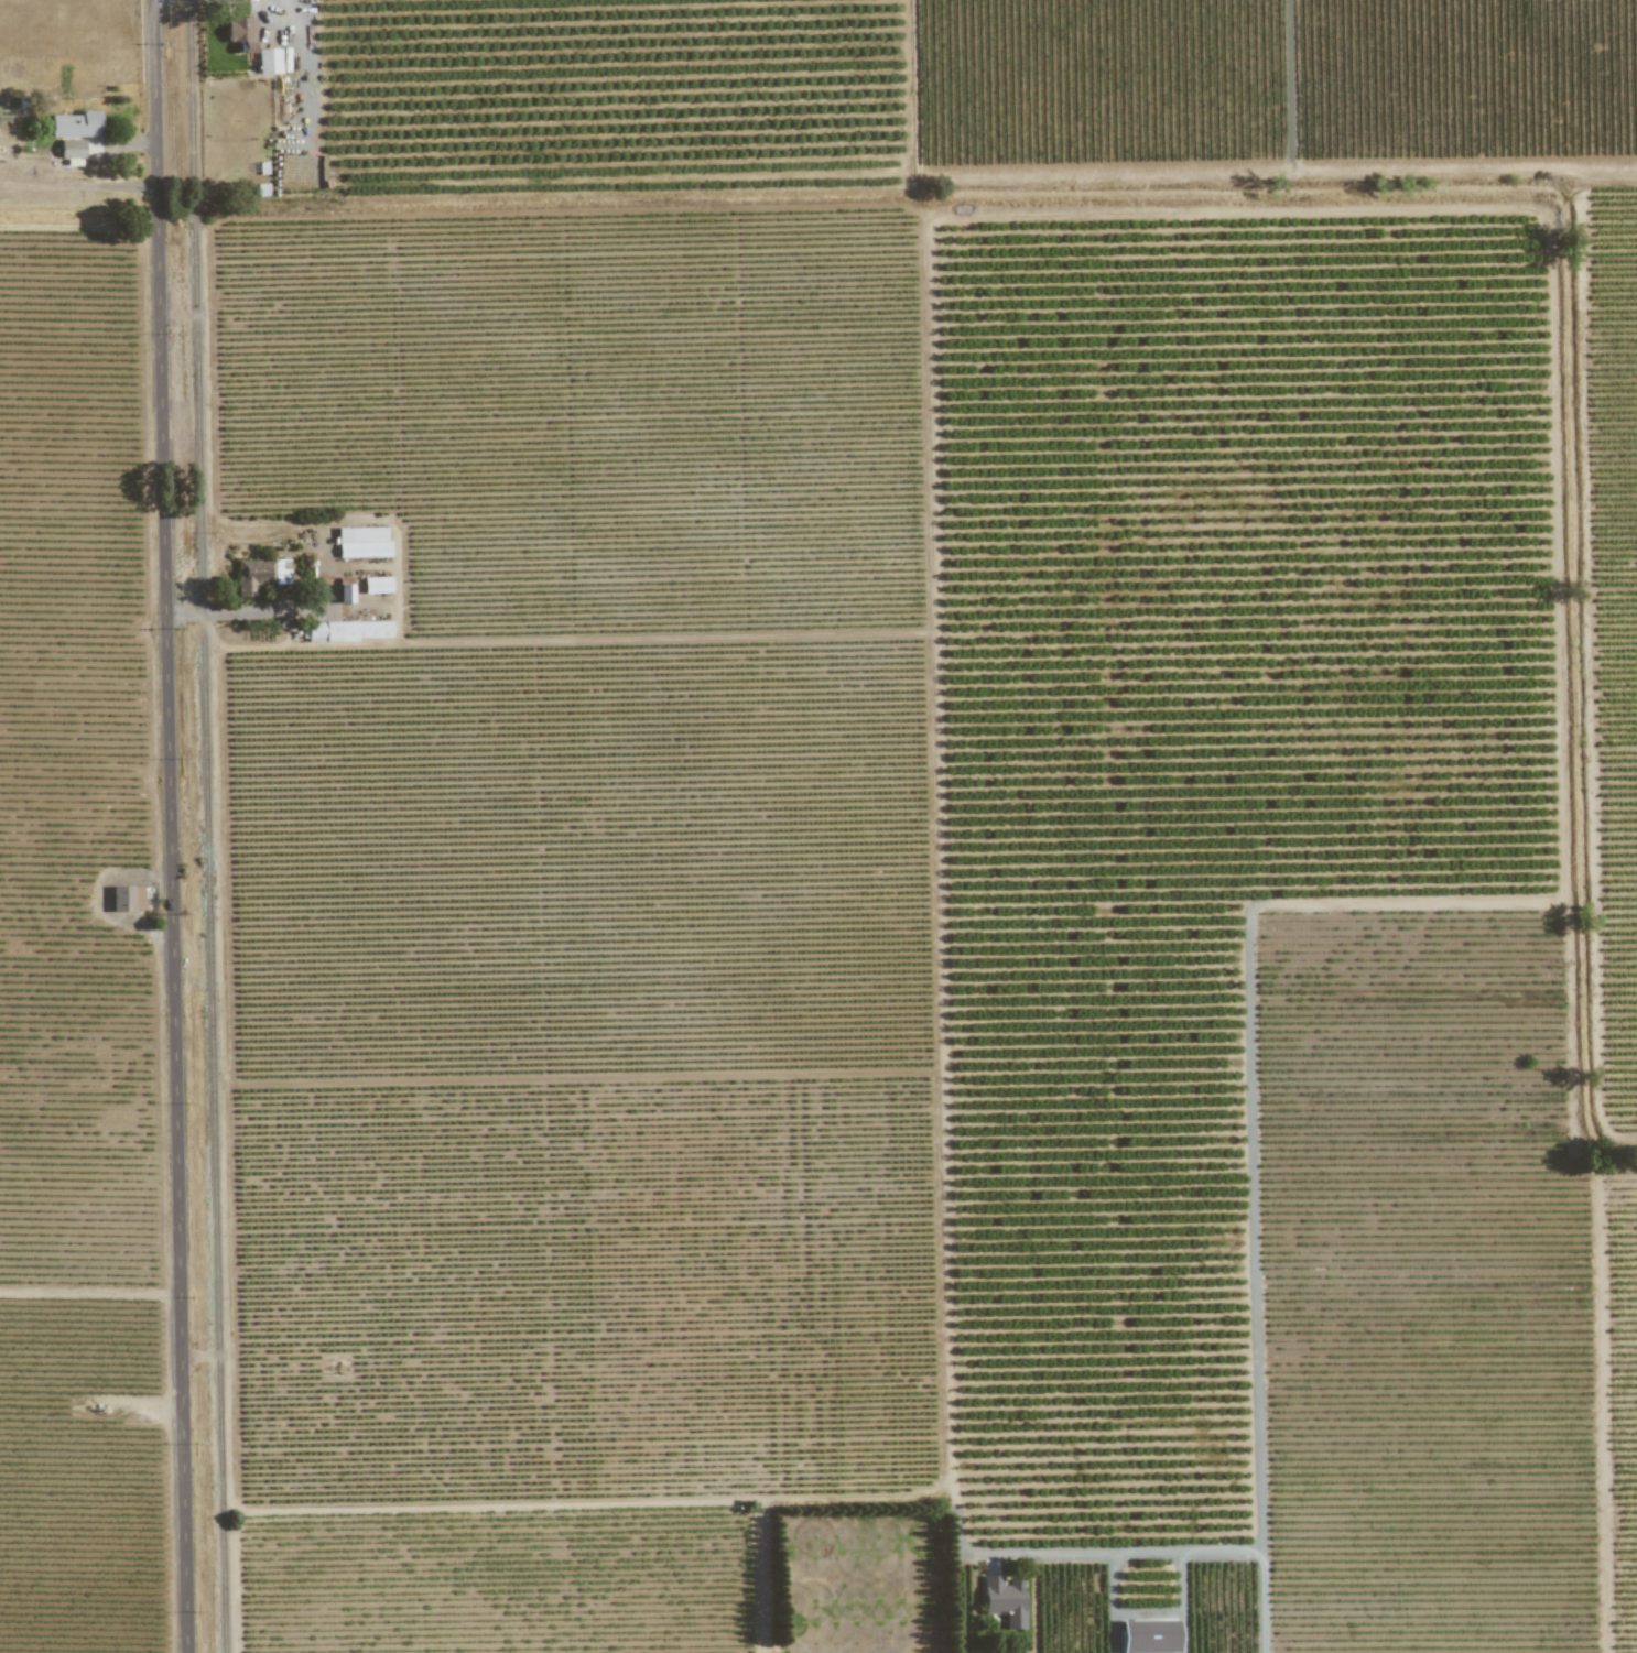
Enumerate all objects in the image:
building: (240, 33)
building: (268, 61)
road: (304, 75)
road: (1292, 88)
building: (75, 124)
road: (130, 145)
building: (71, 149)
building: (361, 542)
building: (259, 575)
building: (376, 585)
building: (344, 590)
road: (237, 610)
building: (365, 630)
building: (321, 632)
road: (167, 826)
building: (126, 899)
road: (1154, 1548)
building: (1004, 1600)
road: (1183, 1600)
road: (1265, 1600)
road: (1114, 1601)
building: (1148, 1636)

